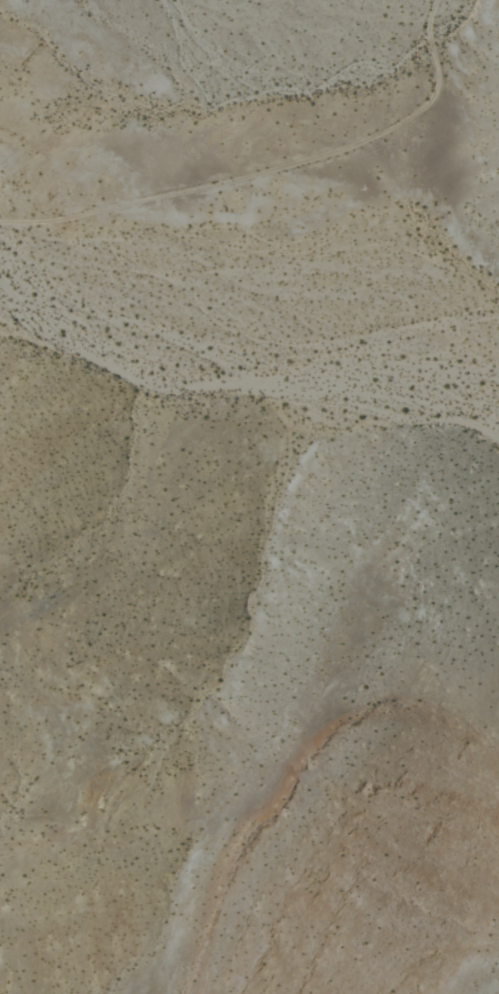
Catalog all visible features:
road: (275, 171)

